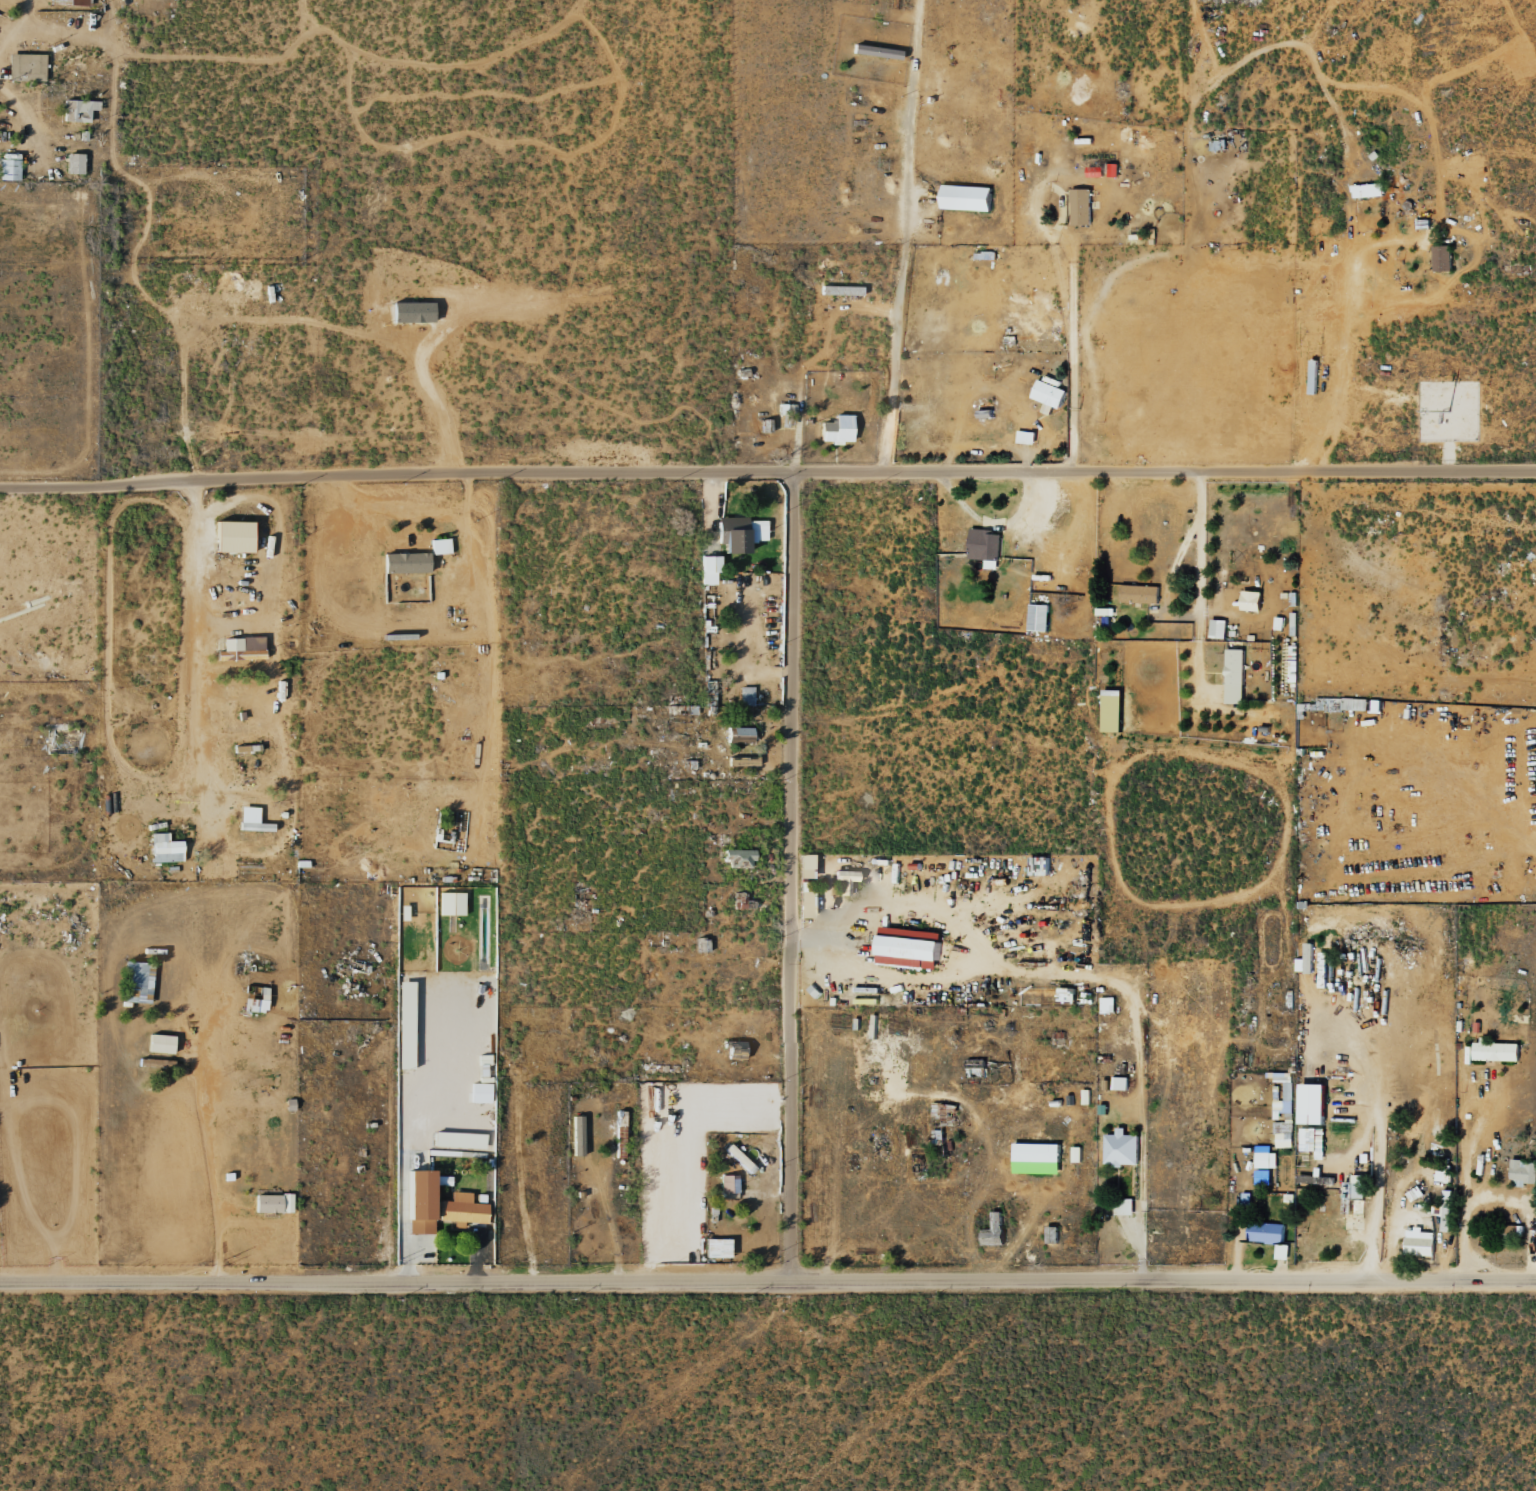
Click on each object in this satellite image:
building: (68, 2)
building: (875, 51)
building: (26, 67)
building: (78, 110)
building: (73, 163)
building: (9, 169)
building: (1113, 170)
building: (1095, 171)
building: (1368, 190)
building: (966, 197)
building: (1080, 206)
building: (1442, 257)
building: (840, 290)
building: (411, 312)
building: (1049, 396)
building: (836, 430)
building: (1026, 437)
road: (767, 474)
building: (232, 536)
building: (743, 536)
building: (439, 546)
building: (985, 546)
building: (404, 562)
building: (709, 569)
building: (1140, 593)
building: (1251, 600)
building: (1038, 617)
building: (1218, 628)
building: (240, 648)
building: (1235, 675)
building: (745, 695)
building: (1112, 710)
building: (739, 734)
building: (251, 820)
building: (165, 849)
building: (738, 858)
building: (805, 866)
road: (792, 877)
building: (844, 880)
building: (805, 904)
building: (909, 949)
building: (136, 982)
building: (1066, 994)
building: (256, 1002)
building: (1107, 1004)
building: (404, 1025)
building: (159, 1043)
building: (1495, 1051)
road: (1520, 1052)
building: (1120, 1082)
building: (479, 1093)
building: (1312, 1103)
building: (1284, 1111)
building: (457, 1140)
building: (1312, 1141)
building: (1121, 1148)
building: (1037, 1152)
building: (1076, 1154)
building: (1265, 1157)
building: (739, 1158)
building: (1523, 1172)
building: (728, 1184)
building: (1355, 1195)
building: (418, 1202)
building: (266, 1203)
building: (286, 1203)
building: (1124, 1206)
building: (461, 1209)
building: (1444, 1210)
building: (1269, 1236)
building: (1420, 1242)
building: (716, 1248)
road: (768, 1281)

